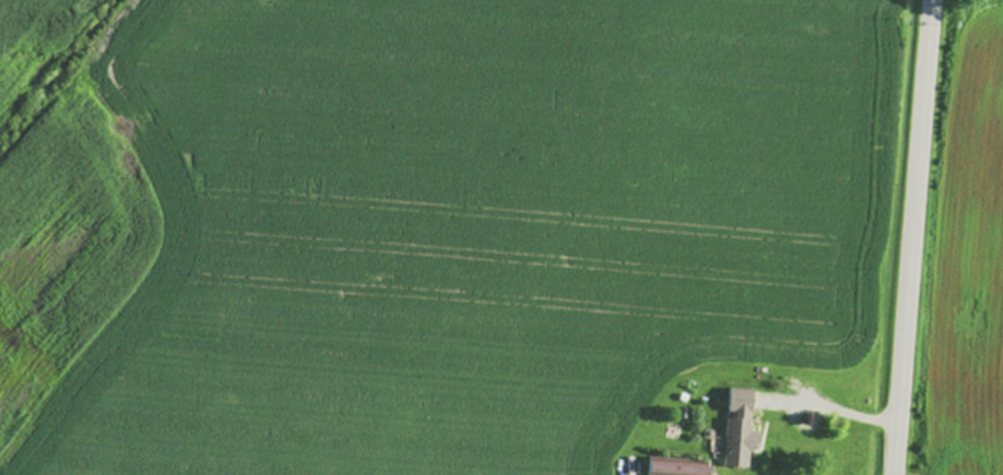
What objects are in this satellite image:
road: (909, 237)
building: (739, 429)
building: (677, 467)

